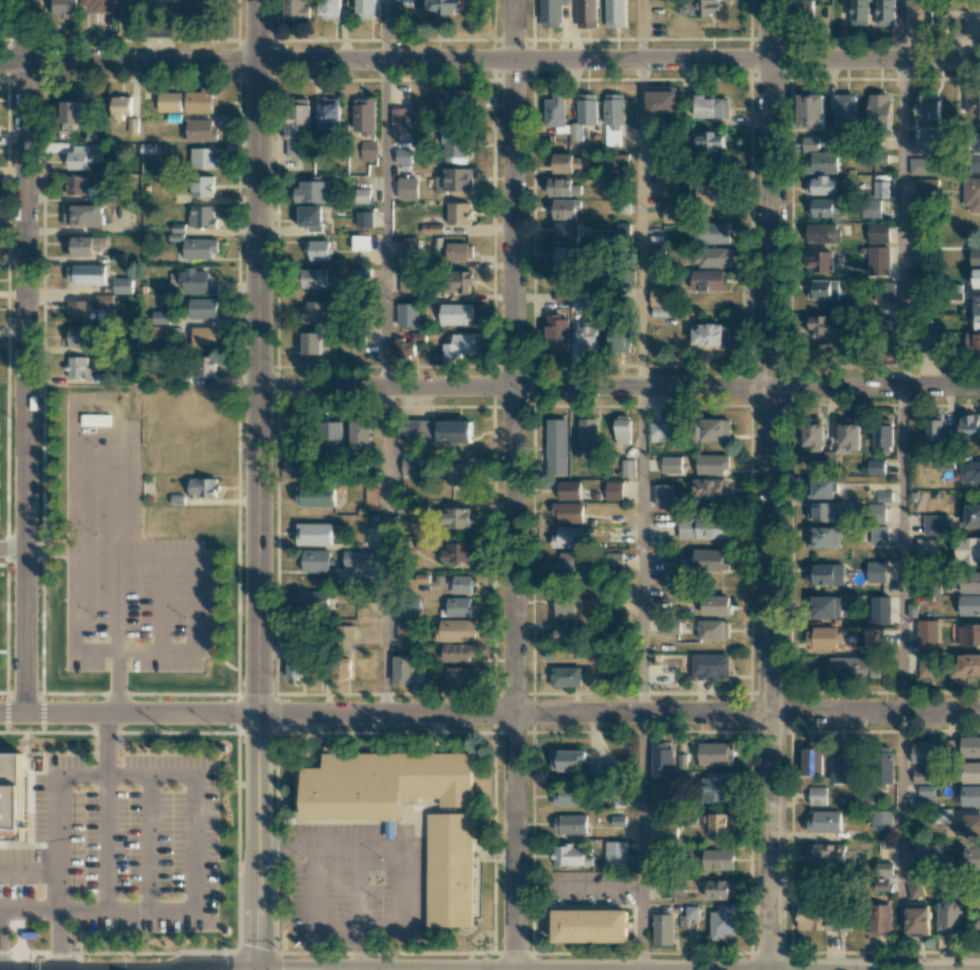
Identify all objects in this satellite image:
building: (968, 4)
building: (101, 5)
building: (443, 6)
building: (700, 7)
building: (64, 8)
building: (805, 8)
building: (296, 9)
building: (331, 9)
building: (366, 9)
building: (859, 12)
building: (885, 12)
building: (551, 13)
building: (587, 13)
building: (615, 13)
road: (641, 29)
road: (902, 29)
road: (384, 30)
road: (489, 59)
building: (200, 100)
building: (453, 100)
building: (661, 100)
building: (170, 101)
building: (122, 105)
building: (712, 106)
building: (972, 106)
building: (926, 107)
building: (879, 108)
building: (73, 109)
building: (810, 110)
building: (845, 110)
building: (555, 111)
building: (584, 114)
building: (330, 115)
building: (364, 116)
building: (400, 117)
building: (613, 118)
building: (133, 125)
building: (297, 126)
building: (201, 130)
building: (708, 141)
building: (977, 142)
building: (455, 147)
building: (367, 149)
building: (403, 156)
building: (78, 157)
building: (203, 158)
building: (620, 159)
building: (561, 162)
building: (821, 163)
building: (976, 163)
building: (923, 165)
building: (455, 180)
building: (78, 185)
building: (821, 185)
building: (203, 186)
building: (926, 186)
building: (563, 187)
building: (407, 188)
building: (881, 189)
building: (312, 191)
building: (707, 194)
building: (971, 194)
building: (363, 195)
building: (826, 208)
building: (871, 208)
building: (563, 209)
building: (459, 213)
building: (673, 214)
building: (84, 215)
building: (202, 216)
building: (310, 217)
building: (364, 219)
road: (641, 222)
road: (901, 222)
road: (384, 223)
building: (566, 232)
building: (712, 232)
building: (822, 232)
building: (878, 232)
building: (360, 242)
building: (85, 245)
building: (411, 246)
building: (200, 248)
building: (317, 250)
building: (459, 251)
building: (566, 256)
building: (920, 256)
building: (712, 257)
building: (975, 257)
building: (881, 260)
building: (819, 261)
building: (86, 273)
building: (314, 278)
building: (976, 278)
building: (708, 280)
building: (408, 281)
building: (458, 281)
building: (197, 282)
building: (122, 285)
building: (822, 289)
building: (885, 293)
building: (562, 297)
building: (104, 299)
building: (660, 302)
building: (203, 308)
building: (78, 310)
building: (317, 312)
building: (976, 312)
building: (455, 313)
building: (408, 314)
building: (161, 317)
building: (826, 327)
building: (557, 334)
building: (204, 335)
building: (711, 335)
building: (80, 336)
building: (587, 337)
building: (619, 338)
building: (972, 341)
building: (311, 343)
building: (407, 345)
building: (457, 345)
road: (25, 356)
building: (206, 366)
building: (78, 368)
road: (618, 386)
building: (969, 426)
building: (622, 429)
building: (715, 429)
building: (934, 430)
building: (434, 431)
building: (658, 431)
building: (587, 432)
building: (332, 434)
building: (360, 435)
building: (814, 436)
building: (850, 437)
building: (883, 437)
building: (556, 446)
building: (829, 458)
building: (671, 464)
building: (712, 464)
building: (411, 466)
building: (628, 467)
building: (876, 467)
building: (299, 468)
building: (970, 471)
building: (460, 474)
road: (256, 485)
road: (512, 485)
road: (769, 485)
building: (203, 487)
building: (822, 488)
building: (569, 489)
building: (614, 490)
building: (711, 490)
building: (663, 495)
building: (884, 495)
building: (316, 496)
road: (116, 502)
building: (822, 511)
building: (568, 512)
building: (973, 515)
building: (462, 518)
building: (936, 525)
building: (703, 528)
building: (314, 534)
building: (879, 535)
building: (568, 537)
building: (823, 537)
building: (926, 547)
road: (7, 549)
road: (49, 549)
road: (384, 549)
road: (641, 549)
road: (901, 549)
building: (966, 550)
building: (457, 552)
parking lot: (124, 553)
building: (356, 558)
building: (615, 559)
building: (316, 560)
building: (710, 560)
building: (569, 564)
building: (876, 571)
building: (824, 574)
building: (970, 582)
building: (461, 584)
building: (311, 600)
road: (159, 604)
road: (194, 604)
building: (564, 604)
building: (716, 605)
building: (969, 605)
building: (458, 606)
building: (410, 607)
building: (826, 607)
building: (880, 609)
building: (457, 630)
building: (613, 630)
building: (713, 630)
building: (404, 631)
building: (347, 632)
building: (563, 633)
building: (927, 634)
building: (969, 634)
building: (873, 637)
building: (825, 638)
building: (457, 652)
building: (927, 664)
building: (967, 665)
building: (710, 667)
building: (853, 667)
building: (294, 668)
building: (403, 668)
building: (341, 669)
building: (317, 670)
building: (563, 676)
building: (459, 677)
road: (115, 681)
road: (490, 713)
road: (105, 745)
building: (970, 746)
building: (716, 753)
building: (923, 753)
building: (812, 758)
building: (566, 760)
building: (662, 761)
building: (886, 765)
building: (842, 766)
building: (601, 769)
building: (970, 772)
building: (920, 776)
road: (127, 777)
building: (385, 783)
building: (717, 789)
building: (926, 792)
building: (9, 794)
building: (970, 795)
building: (569, 796)
building: (817, 796)
building: (941, 815)
building: (882, 820)
building: (719, 822)
building: (825, 822)
building: (570, 824)
building: (969, 826)
road: (641, 841)
road: (902, 841)
road: (59, 843)
road: (104, 843)
parking lot: (118, 843)
road: (147, 843)
road: (194, 844)
road: (323, 844)
road: (297, 845)
building: (927, 851)
building: (615, 854)
building: (826, 854)
building: (570, 856)
building: (972, 858)
building: (718, 859)
building: (884, 868)
road: (29, 869)
building: (450, 870)
parking lot: (358, 882)
building: (720, 889)
road: (404, 890)
building: (915, 890)
building: (476, 898)
road: (29, 909)
road: (126, 909)
building: (811, 918)
building: (880, 919)
building: (949, 919)
building: (917, 920)
building: (722, 922)
building: (838, 922)
building: (979, 923)
building: (591, 926)
building: (663, 929)
road: (59, 939)

